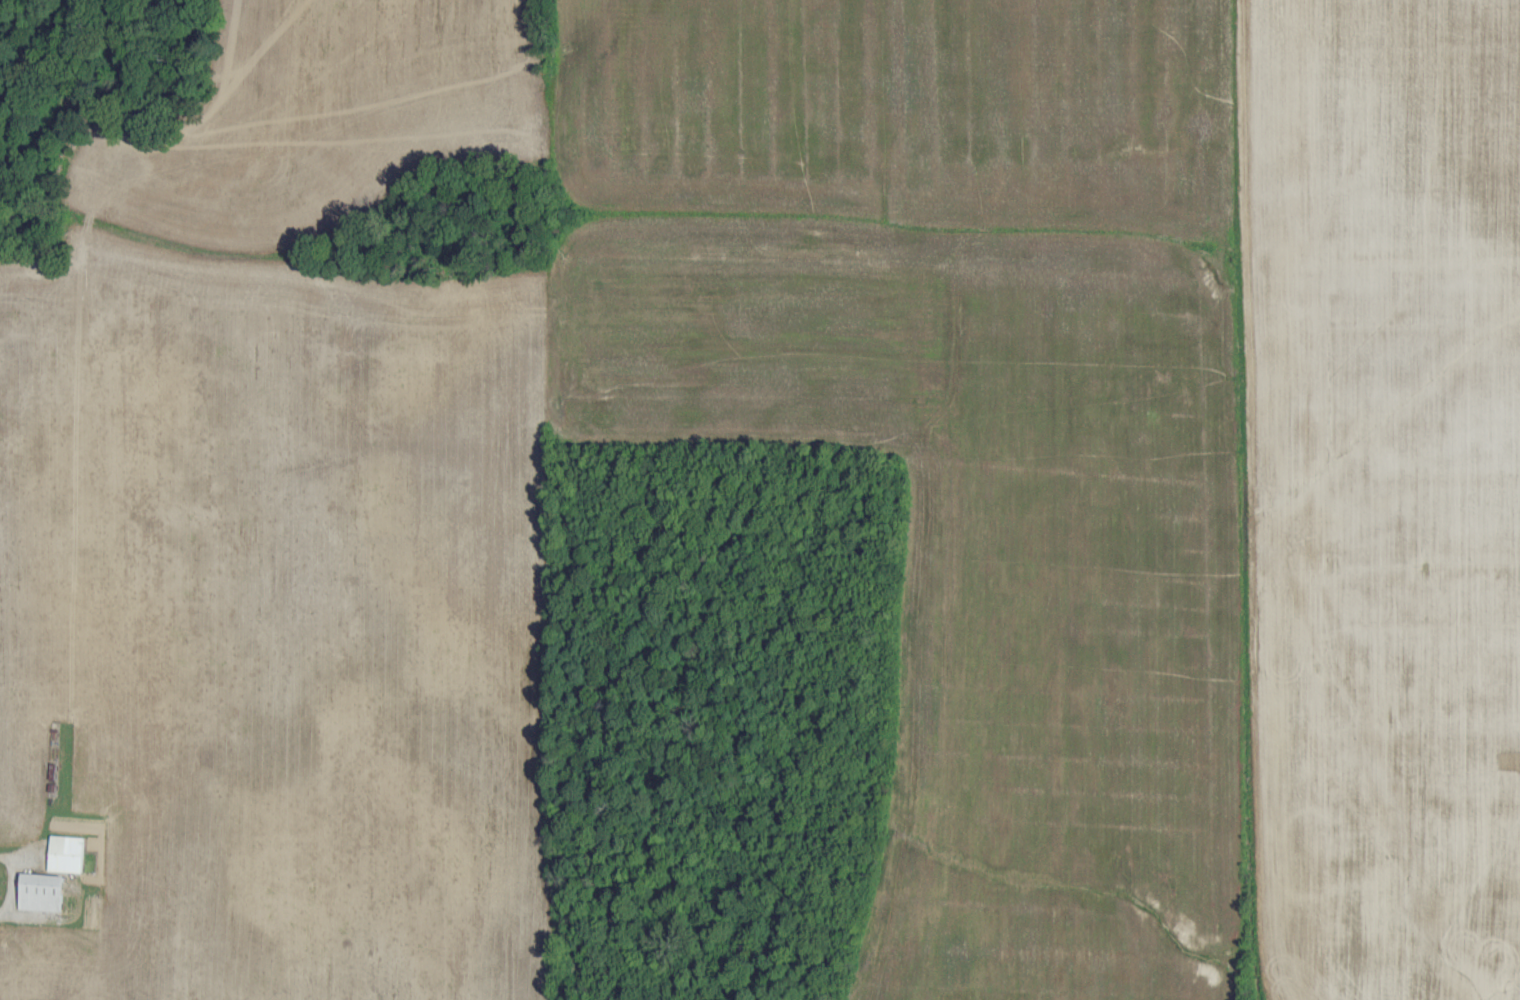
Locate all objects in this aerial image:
building: (70, 852)
road: (8, 888)
building: (46, 890)

